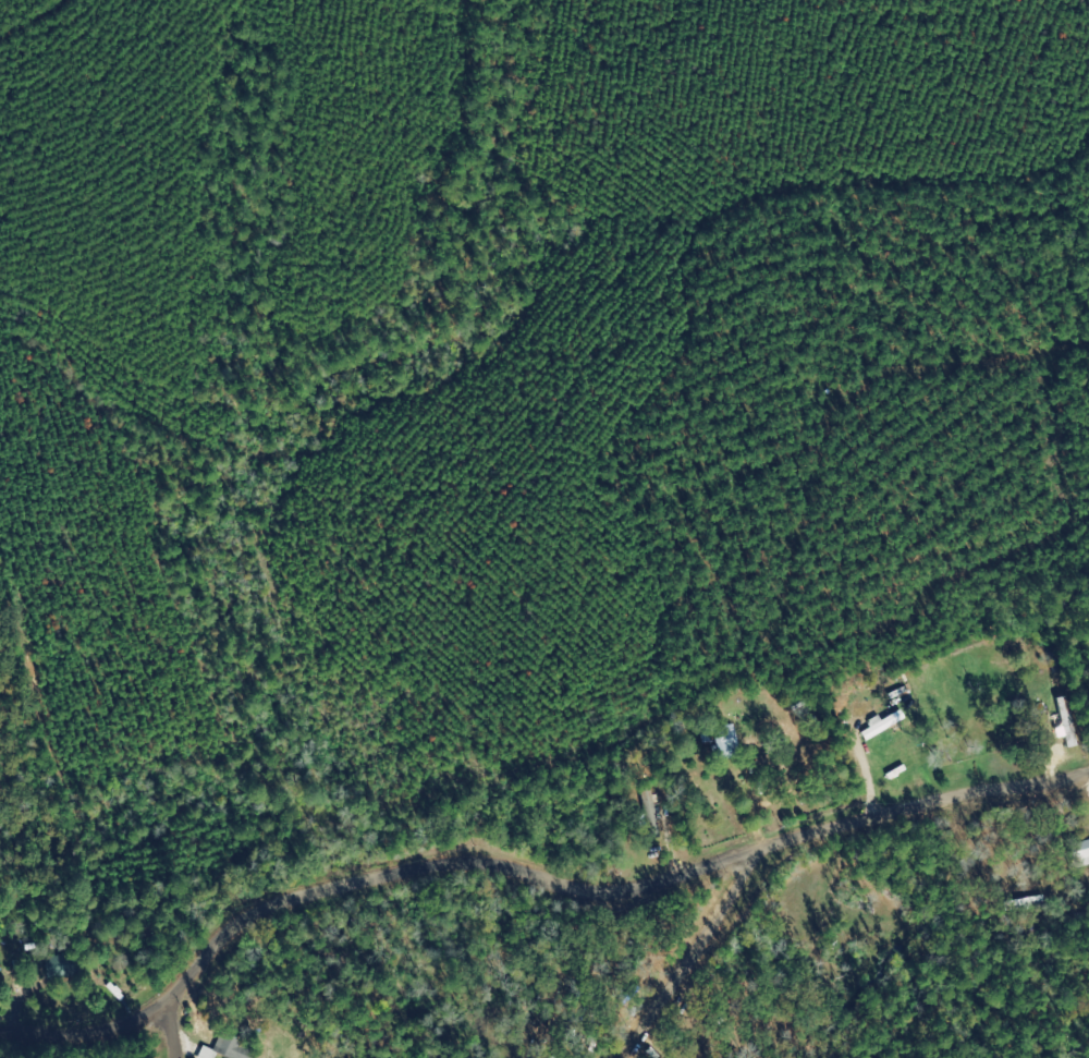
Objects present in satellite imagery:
road: (13, 13)
building: (1067, 722)
building: (884, 726)
building: (726, 742)
building: (651, 812)
building: (1080, 854)
road: (533, 888)
road: (693, 966)
building: (61, 970)
road: (163, 1039)
building: (227, 1049)

